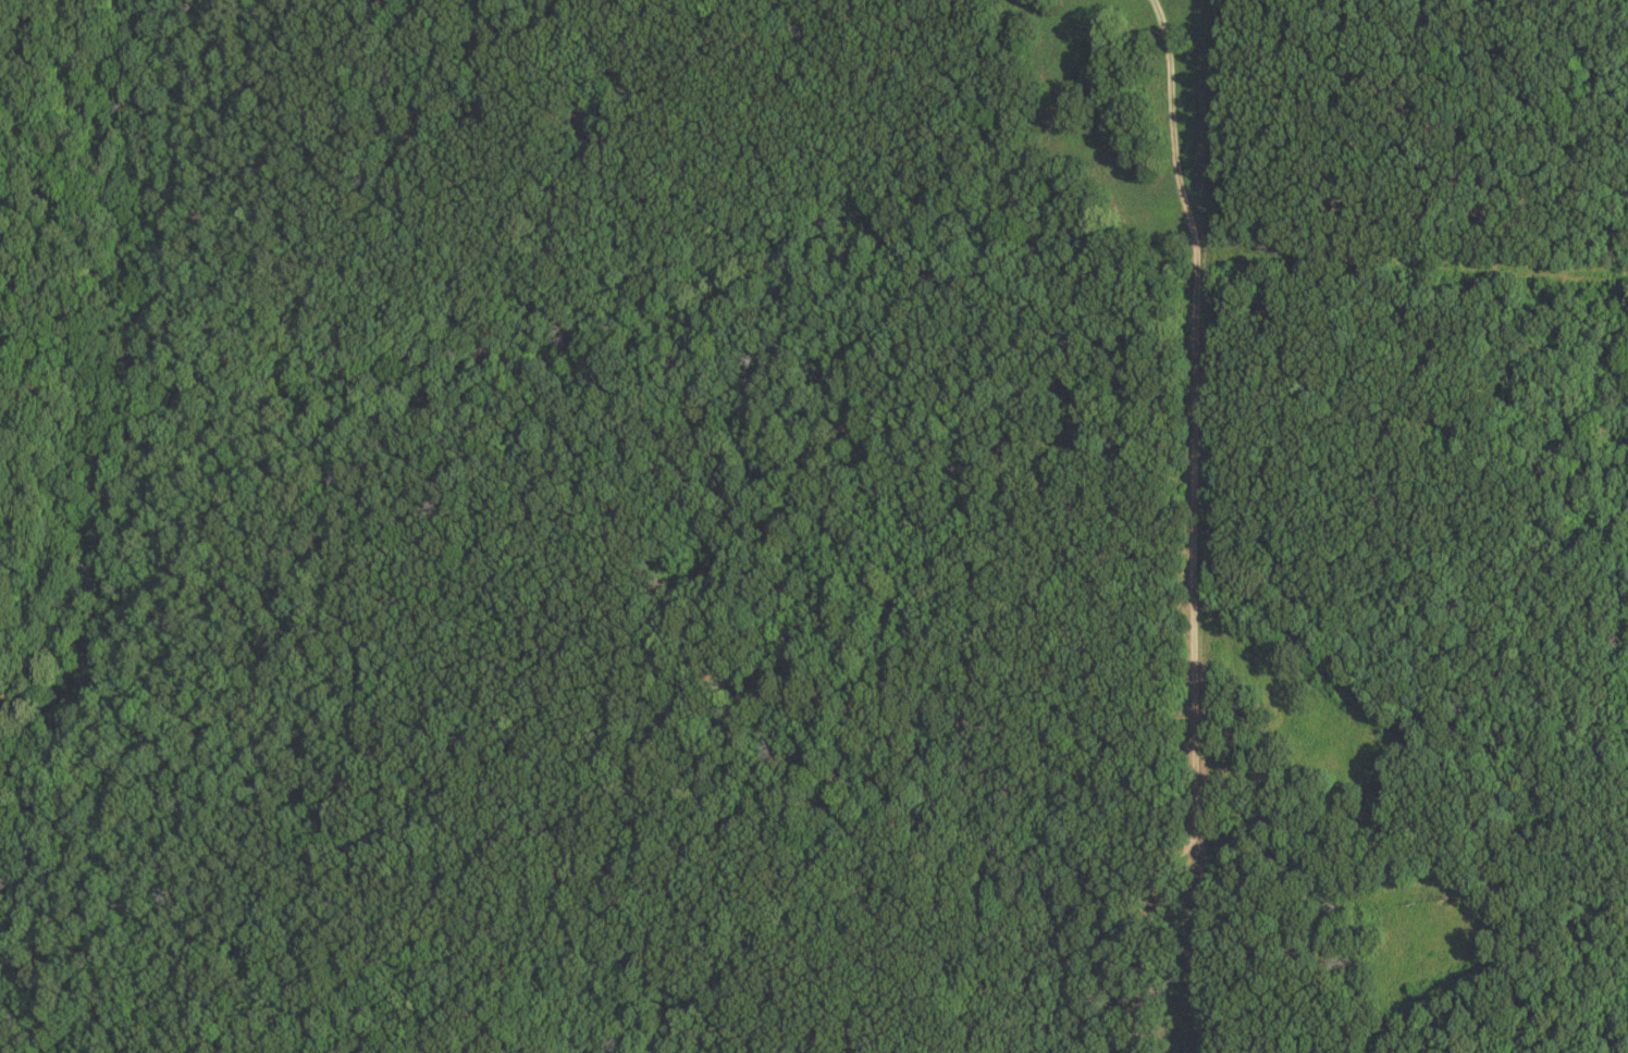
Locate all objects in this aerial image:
road: (1286, 262)

